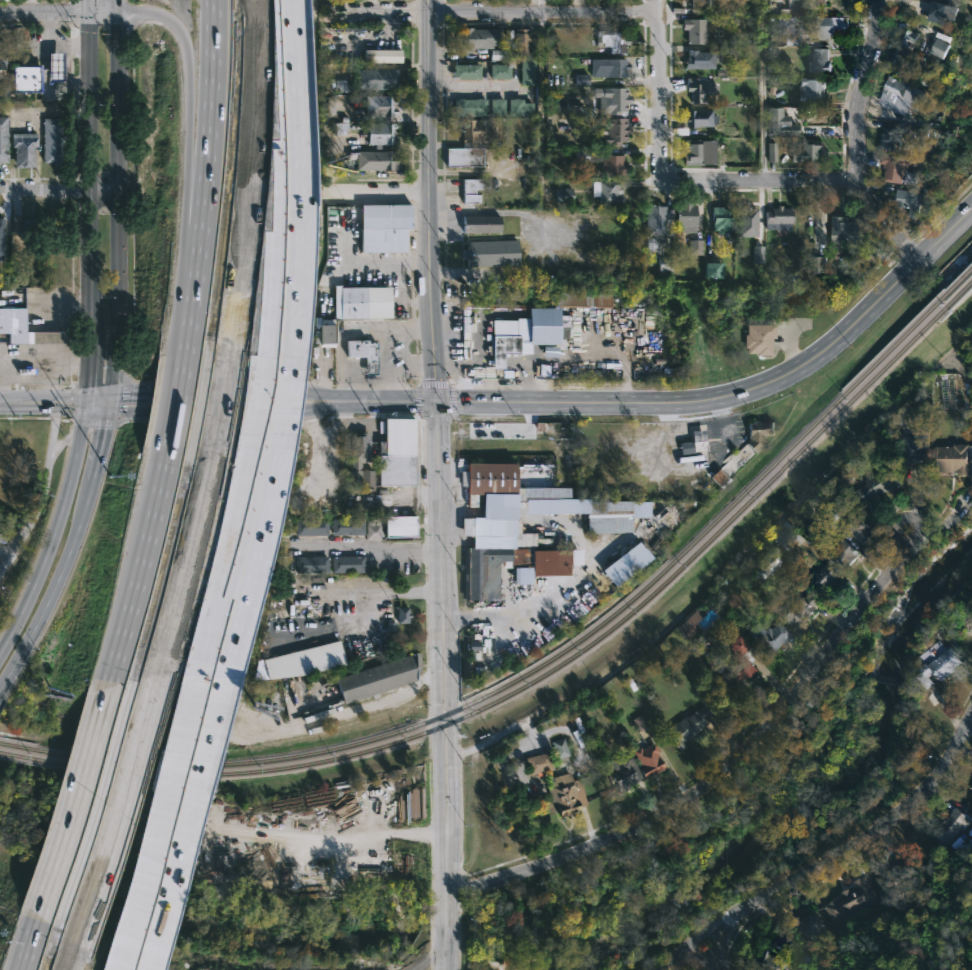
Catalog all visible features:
building: (821, 2)
building: (697, 3)
road: (31, 6)
road: (538, 7)
building: (791, 8)
road: (101, 11)
road: (43, 12)
road: (289, 13)
road: (290, 13)
building: (940, 13)
road: (542, 15)
road: (383, 16)
building: (830, 26)
building: (786, 28)
building: (696, 31)
building: (477, 39)
building: (613, 40)
building: (521, 43)
road: (31, 45)
road: (66, 45)
building: (941, 48)
building: (907, 51)
building: (3, 52)
building: (496, 55)
building: (381, 56)
building: (701, 59)
building: (819, 60)
building: (56, 64)
gas station: (56, 64)
road: (68, 66)
building: (615, 68)
road: (45, 70)
building: (499, 71)
building: (466, 72)
building: (527, 72)
building: (25, 79)
building: (375, 79)
building: (341, 85)
road: (481, 85)
building: (4, 89)
road: (761, 89)
building: (811, 89)
road: (660, 90)
building: (702, 90)
building: (903, 95)
building: (610, 100)
road: (539, 105)
building: (379, 106)
building: (469, 107)
building: (496, 107)
building: (519, 108)
road: (85, 119)
building: (695, 119)
building: (779, 123)
building: (612, 131)
building: (380, 134)
road: (855, 136)
building: (894, 136)
building: (4, 139)
building: (50, 139)
building: (471, 144)
building: (24, 148)
building: (809, 150)
building: (701, 151)
building: (771, 152)
building: (376, 161)
building: (615, 163)
building: (896, 167)
road: (188, 173)
road: (279, 177)
road: (761, 179)
road: (296, 187)
road: (58, 188)
building: (472, 191)
building: (605, 191)
road: (379, 194)
road: (117, 195)
building: (563, 195)
road: (428, 201)
building: (915, 201)
building: (746, 216)
road: (961, 216)
building: (688, 217)
building: (781, 217)
building: (723, 218)
building: (481, 224)
building: (657, 225)
building: (31, 227)
building: (2, 228)
building: (385, 228)
building: (845, 229)
building: (695, 247)
building: (491, 253)
road: (366, 263)
building: (816, 264)
building: (667, 267)
building: (711, 270)
road: (90, 277)
railway: (958, 282)
railway: (959, 295)
building: (582, 299)
building: (361, 303)
road: (67, 322)
building: (13, 324)
building: (325, 332)
road: (388, 333)
building: (759, 335)
building: (45, 336)
building: (504, 347)
building: (363, 354)
gas station: (363, 354)
road: (89, 359)
road: (44, 362)
road: (342, 368)
road: (390, 368)
road: (412, 368)
road: (60, 382)
traffic signals: (110, 391)
road: (147, 391)
road: (264, 393)
road: (98, 396)
road: (723, 397)
road: (108, 401)
road: (43, 402)
traffic signals: (86, 402)
road: (389, 402)
traffic signals: (437, 403)
road: (168, 404)
road: (281, 408)
road: (265, 409)
traffic signals: (106, 412)
road: (214, 413)
road: (53, 424)
building: (760, 432)
building: (696, 434)
road: (66, 440)
building: (915, 444)
road: (99, 446)
building: (359, 448)
building: (397, 451)
building: (956, 457)
building: (733, 462)
building: (360, 476)
building: (879, 484)
building: (502, 485)
road: (37, 501)
building: (608, 508)
road: (460, 512)
road: (498, 512)
building: (400, 525)
building: (310, 526)
building: (347, 526)
road: (53, 528)
building: (861, 528)
building: (500, 529)
building: (371, 532)
building: (790, 536)
building: (2, 538)
road: (369, 548)
road: (4, 550)
building: (843, 552)
road: (4, 558)
building: (347, 563)
building: (769, 563)
building: (311, 564)
building: (624, 564)
road: (250, 571)
building: (827, 577)
road: (134, 579)
road: (232, 582)
building: (475, 583)
road: (53, 584)
road: (560, 587)
building: (800, 603)
building: (402, 615)
road: (371, 622)
building: (690, 623)
building: (390, 628)
building: (768, 636)
building: (473, 646)
building: (735, 661)
building: (298, 662)
building: (941, 664)
railway: (535, 667)
building: (377, 678)
railway: (535, 678)
road: (446, 686)
building: (639, 722)
building: (687, 726)
building: (559, 748)
building: (649, 759)
road: (717, 762)
building: (538, 763)
building: (623, 772)
building: (970, 786)
building: (566, 794)
road: (184, 821)
building: (947, 825)
road: (70, 829)
road: (166, 831)
road: (828, 862)
building: (890, 883)
building: (850, 900)
building: (142, 925)
building: (806, 925)
building: (788, 941)
road: (721, 946)
building: (769, 961)
road: (129, 965)
road: (34, 966)

